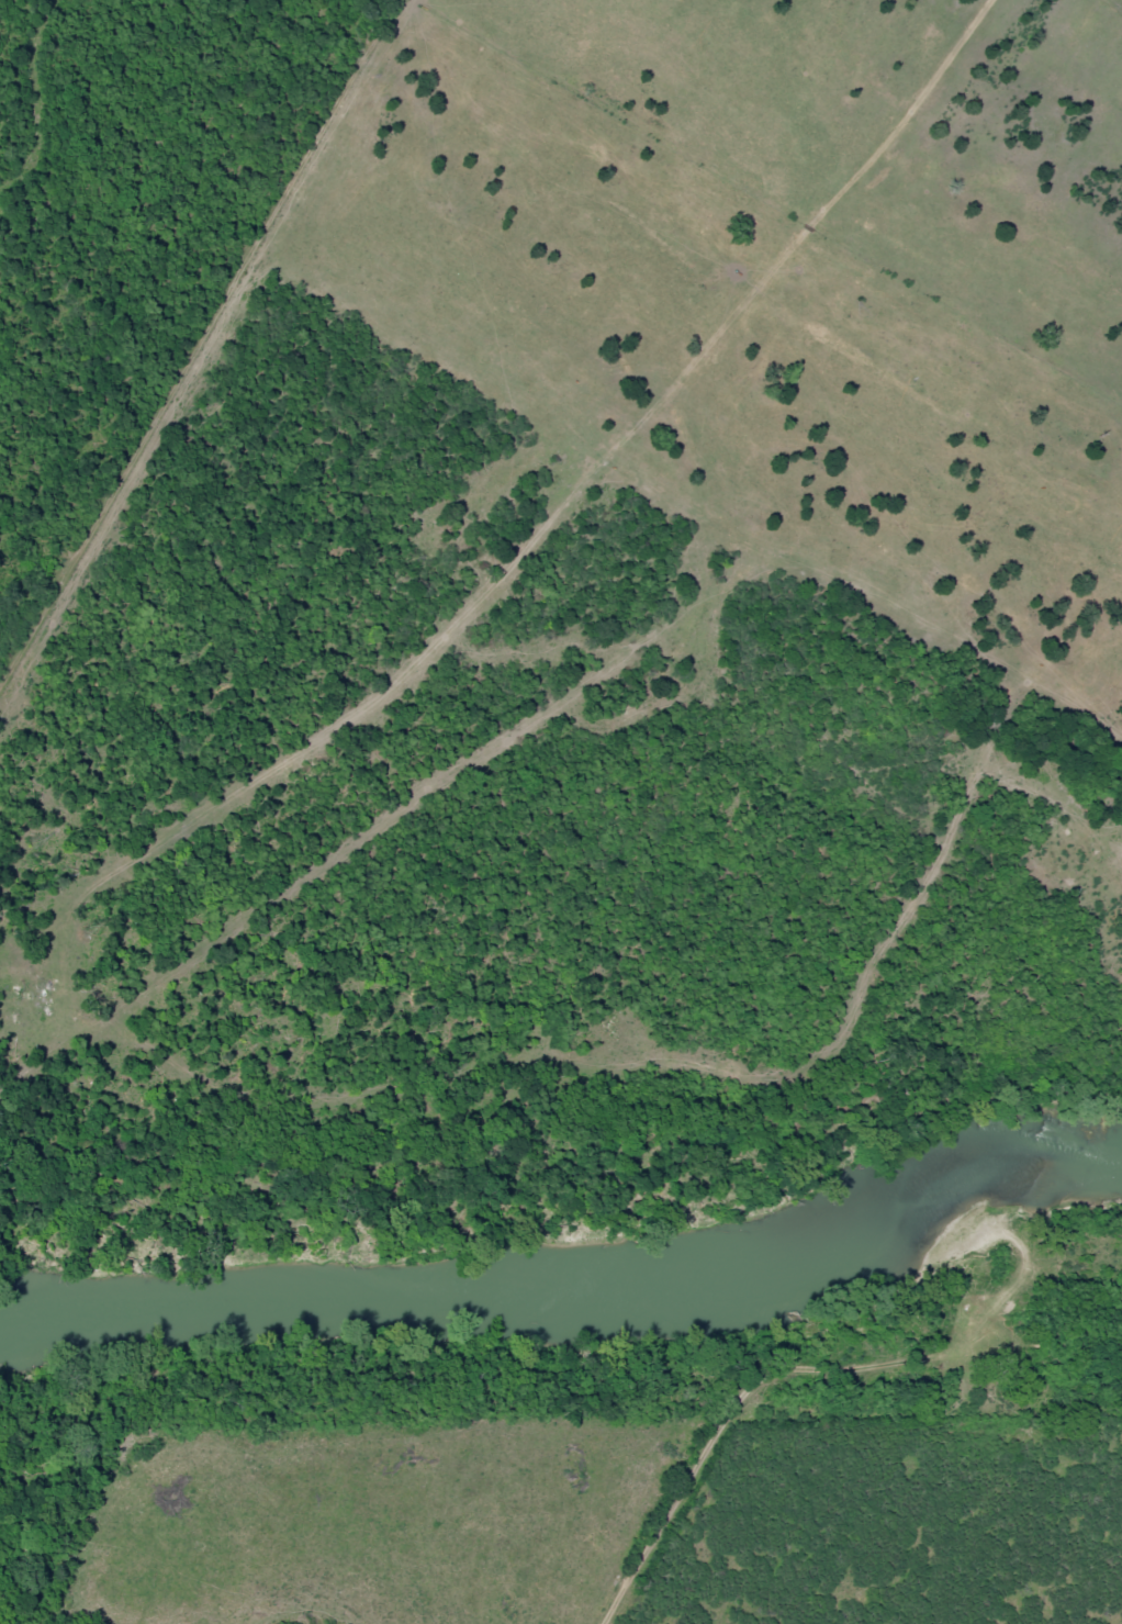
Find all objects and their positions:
road: (1020, 747)
river: (562, 1252)
road: (624, 1520)

